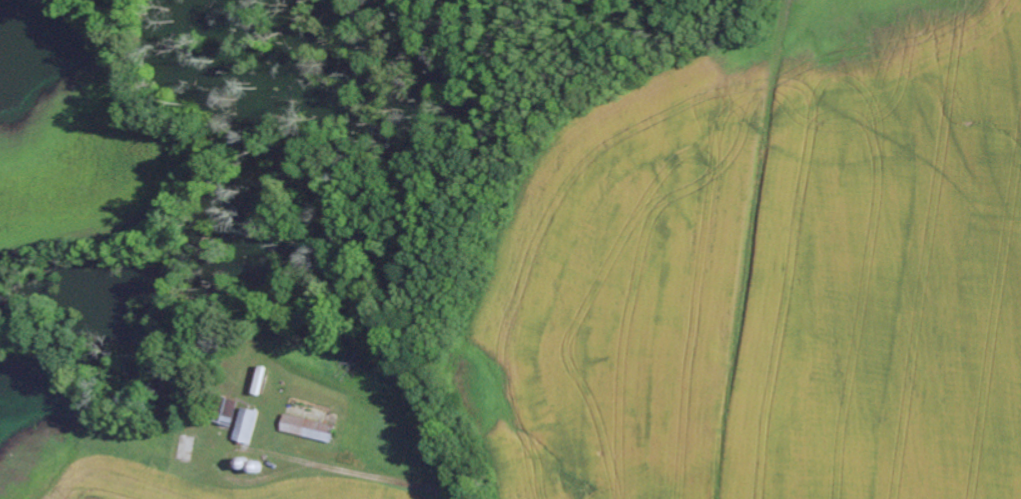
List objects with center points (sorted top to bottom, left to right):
road: (764, 249)
building: (247, 428)

